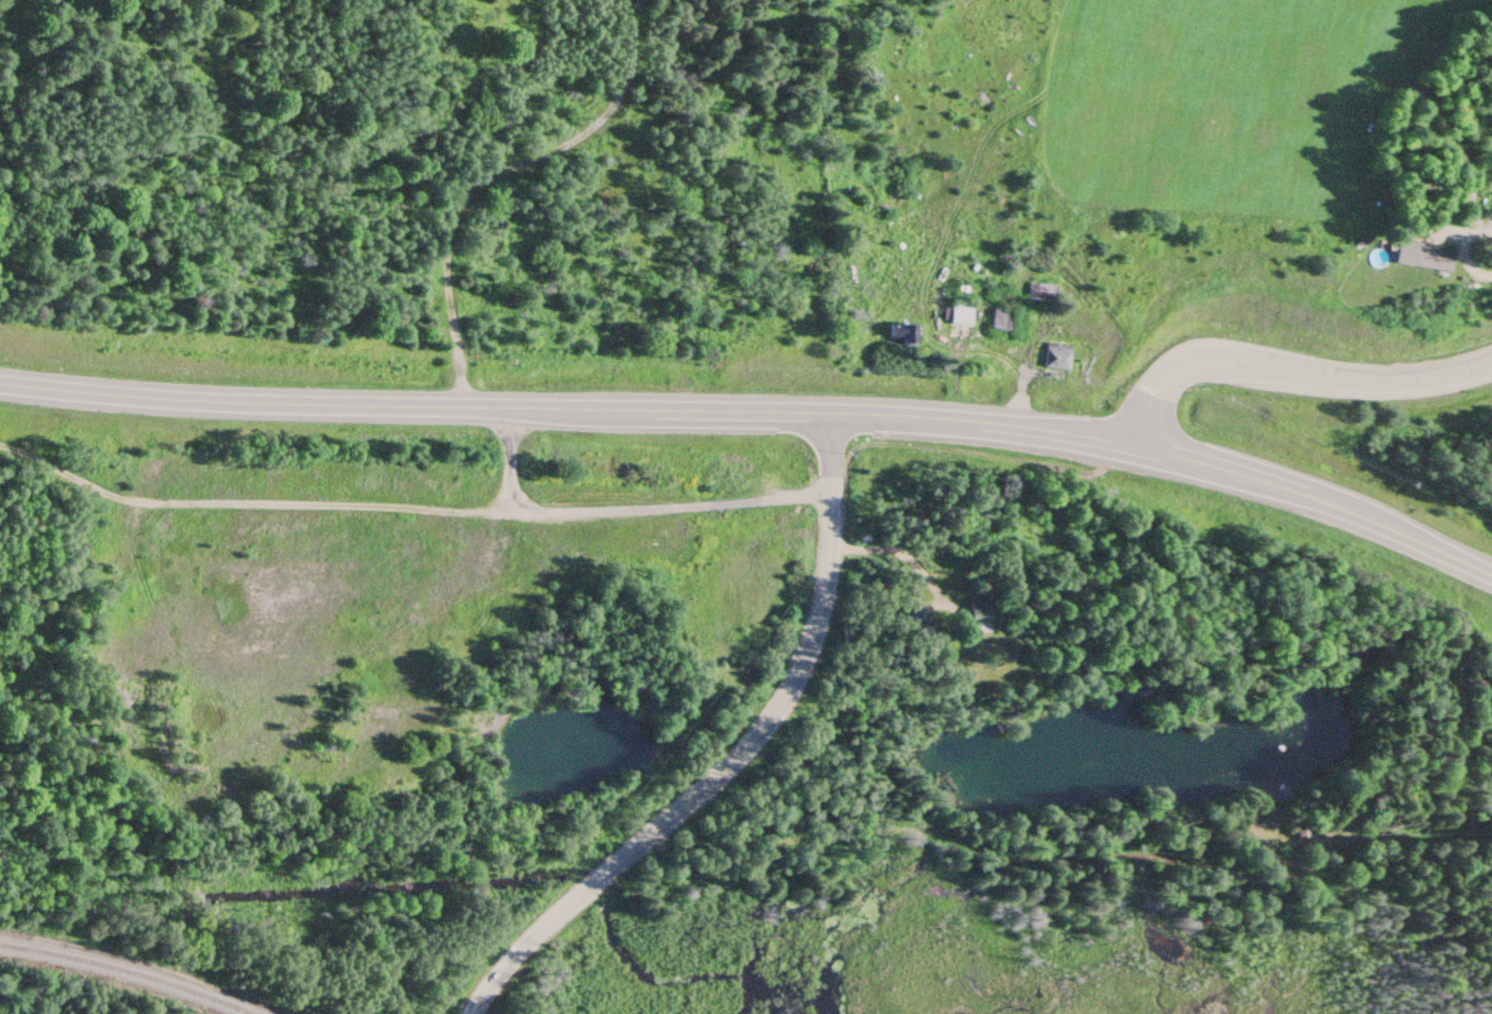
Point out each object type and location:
road: (1477, 235)
building: (1422, 258)
building: (1041, 292)
building: (960, 316)
building: (1000, 321)
building: (903, 336)
building: (1056, 358)
road: (1289, 374)
road: (758, 411)
road: (409, 509)
building: (978, 612)
building: (913, 616)
road: (735, 757)
road: (775, 837)
railway: (125, 974)

